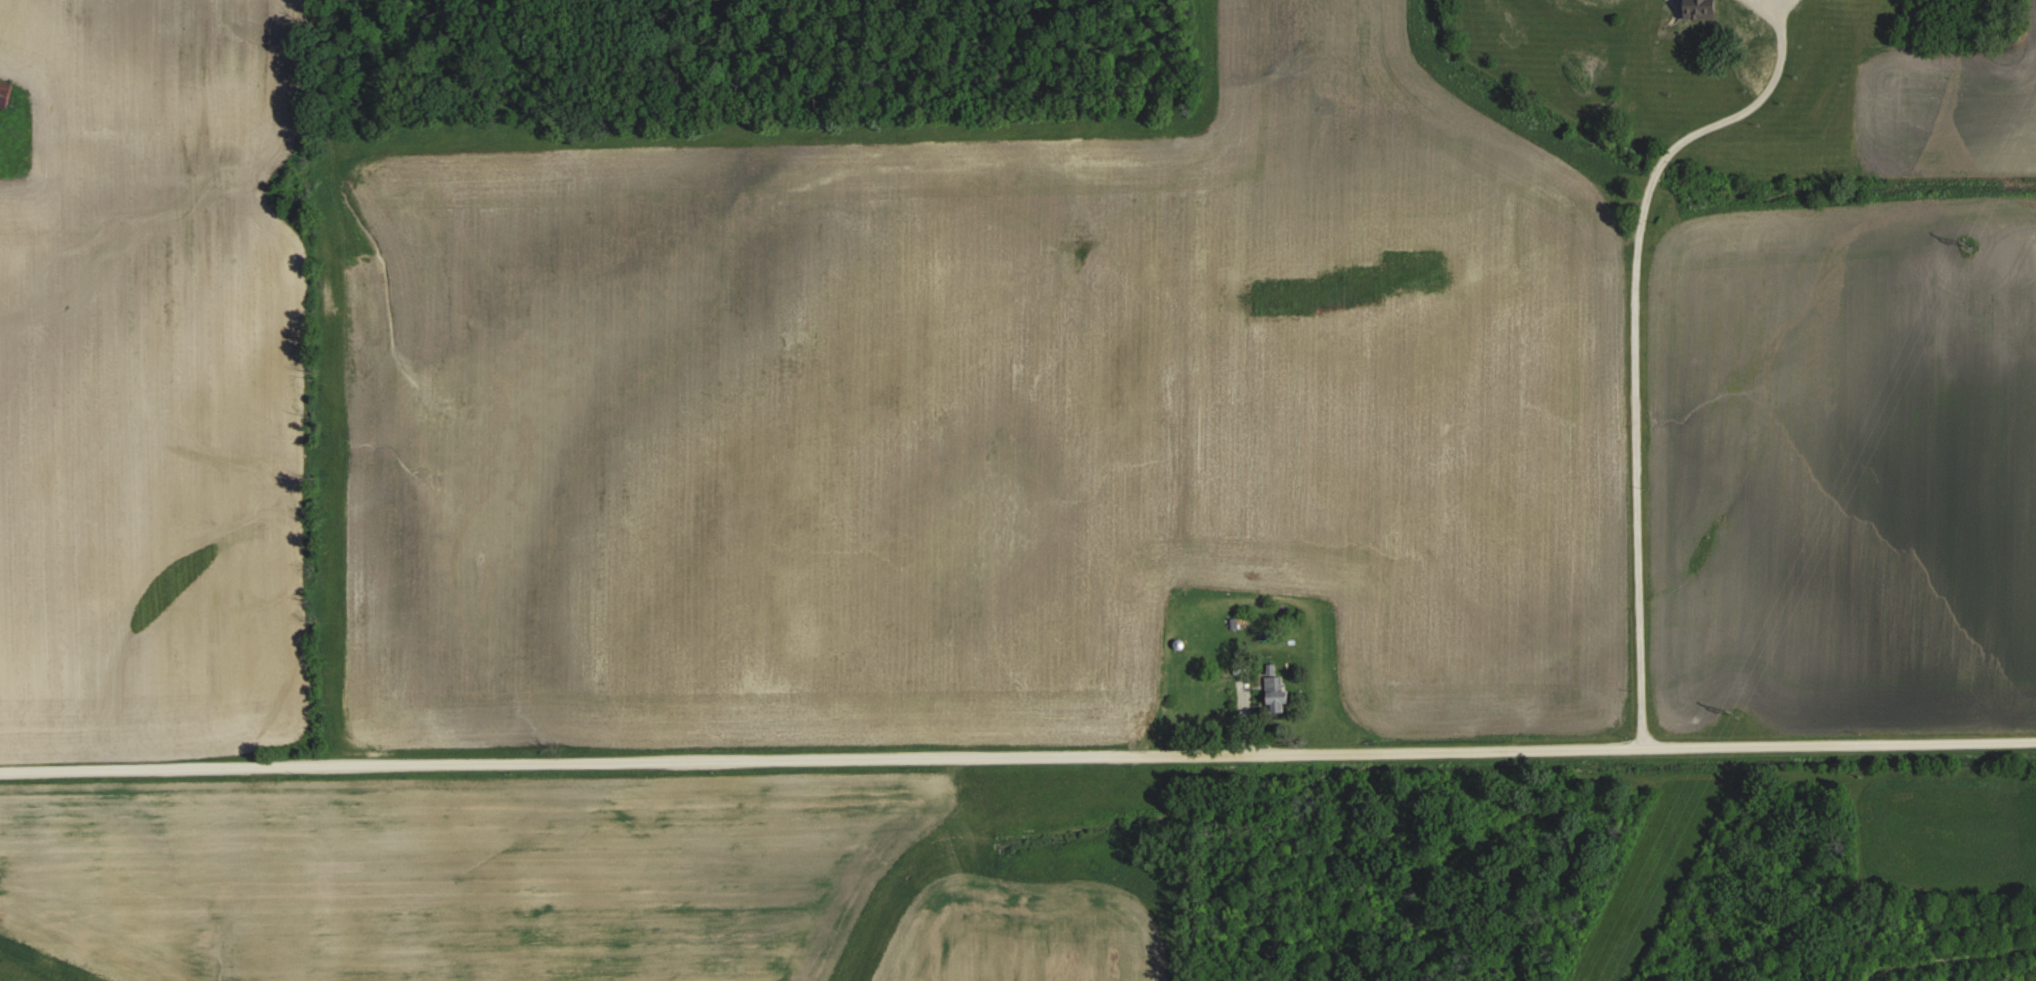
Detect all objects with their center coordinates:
building: (1755, 49)
building: (5, 91)
power tower: (1976, 247)
road: (1635, 339)
building: (1271, 668)
building: (1277, 692)
power tower: (1744, 711)
road: (1018, 753)
road: (1949, 960)

